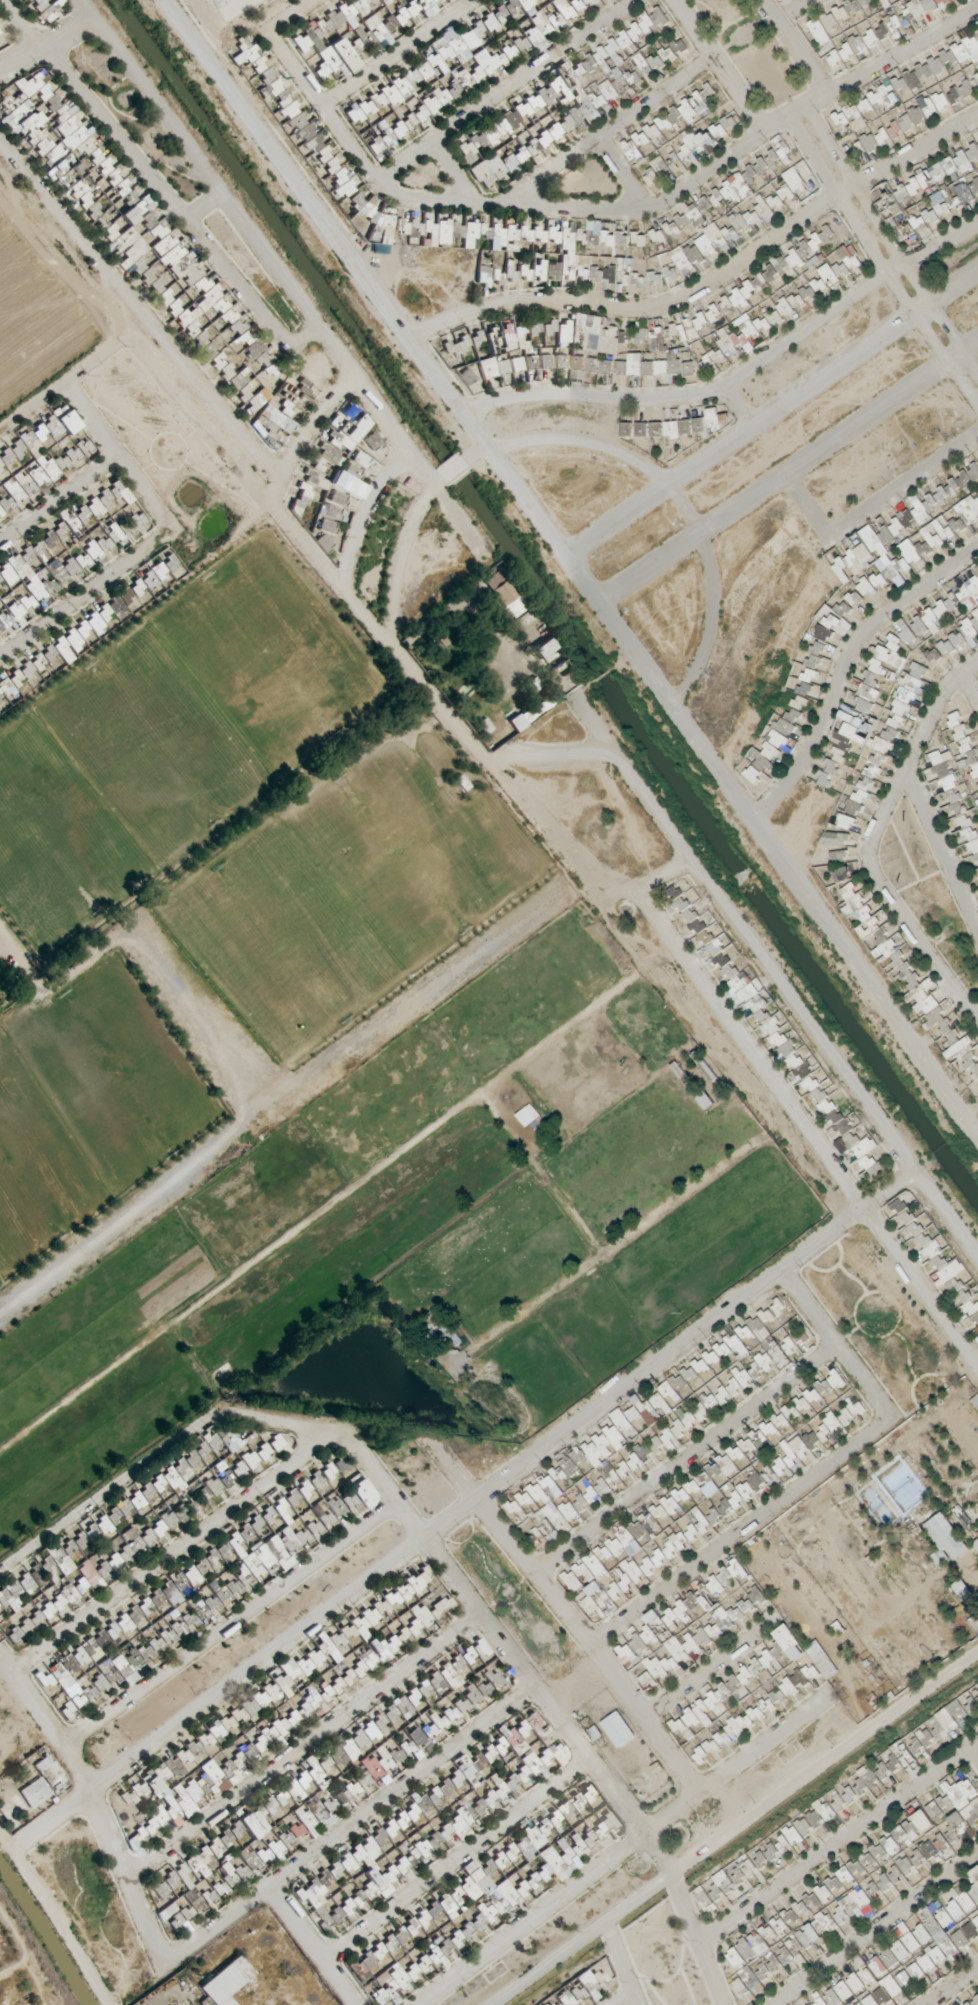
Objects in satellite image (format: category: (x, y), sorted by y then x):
road: (789, 8)
road: (289, 15)
building: (819, 34)
road: (795, 47)
road: (401, 53)
building: (944, 64)
road: (718, 67)
road: (508, 90)
building: (885, 99)
building: (924, 118)
road: (611, 130)
building: (854, 131)
building: (855, 148)
road: (709, 174)
road: (623, 176)
building: (935, 180)
building: (796, 185)
building: (727, 198)
road: (889, 243)
building: (800, 266)
road: (881, 266)
road: (709, 284)
crop: (34, 314)
road: (737, 379)
road: (742, 407)
road: (772, 417)
road: (788, 475)
road: (900, 488)
road: (803, 502)
building: (943, 532)
building: (857, 562)
park: (271, 655)
road: (844, 666)
road: (968, 694)
park: (154, 743)
road: (917, 748)
park: (55, 839)
park: (406, 853)
building: (852, 893)
park: (223, 900)
road: (915, 936)
park: (281, 942)
park: (119, 1075)
park: (37, 1168)
park: (0, 1284)
building: (972, 1898)

